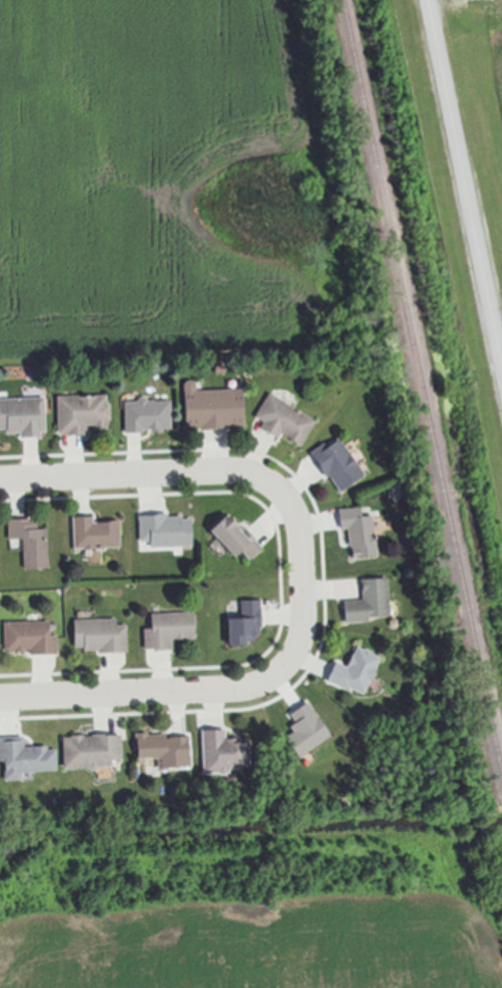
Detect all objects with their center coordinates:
airport: (470, 166)
road: (465, 176)
railway: (423, 384)
building: (217, 408)
building: (84, 413)
building: (150, 415)
building: (24, 416)
building: (287, 419)
building: (341, 464)
building: (169, 530)
building: (362, 532)
building: (97, 533)
building: (242, 538)
building: (32, 542)
road: (302, 577)
building: (372, 602)
building: (250, 623)
building: (172, 630)
building: (102, 635)
building: (32, 638)
building: (359, 671)
building: (310, 729)
building: (168, 749)
building: (95, 751)
building: (227, 752)
building: (28, 758)

